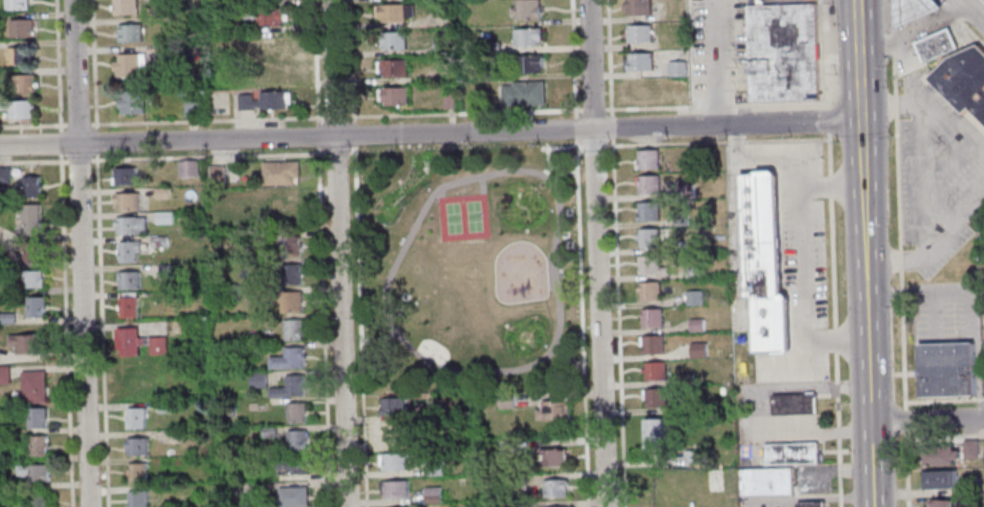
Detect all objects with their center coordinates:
building: (235, 2)
building: (16, 4)
road: (977, 5)
building: (125, 7)
building: (639, 7)
building: (526, 9)
building: (913, 9)
road: (974, 9)
building: (394, 12)
road: (950, 12)
building: (443, 16)
building: (270, 18)
building: (236, 27)
building: (21, 28)
road: (918, 29)
building: (129, 33)
building: (640, 33)
road: (974, 36)
building: (528, 37)
building: (393, 40)
building: (270, 44)
building: (935, 45)
building: (490, 47)
parking lot: (718, 48)
building: (440, 49)
building: (173, 52)
building: (783, 52)
road: (823, 52)
building: (18, 56)
building: (231, 56)
road: (860, 60)
road: (315, 61)
road: (352, 61)
building: (639, 62)
road: (713, 62)
building: (128, 64)
building: (529, 64)
road: (57, 65)
road: (92, 65)
road: (332, 68)
building: (394, 68)
building: (678, 68)
building: (277, 71)
building: (491, 75)
building: (22, 83)
building: (965, 84)
building: (642, 89)
building: (524, 93)
building: (395, 96)
building: (682, 97)
building: (264, 100)
building: (449, 101)
building: (132, 102)
road: (827, 106)
building: (17, 108)
building: (191, 108)
road: (587, 110)
road: (336, 116)
road: (206, 120)
road: (827, 120)
road: (32, 125)
road: (76, 125)
road: (354, 134)
road: (431, 134)
road: (863, 134)
road: (317, 135)
road: (95, 140)
road: (59, 143)
road: (715, 143)
road: (559, 146)
road: (581, 146)
road: (593, 146)
road: (336, 154)
road: (350, 154)
road: (827, 154)
road: (207, 156)
building: (648, 159)
road: (78, 160)
road: (33, 161)
road: (864, 167)
road: (554, 168)
building: (188, 169)
road: (546, 169)
building: (280, 172)
building: (4, 174)
building: (217, 174)
building: (126, 176)
parking lot: (938, 178)
road: (482, 184)
building: (649, 184)
building: (30, 186)
road: (829, 187)
road: (833, 187)
building: (686, 191)
building: (162, 193)
road: (439, 193)
building: (127, 201)
building: (649, 210)
building: (286, 212)
park: (463, 216)
building: (164, 217)
building: (30, 219)
building: (680, 220)
road: (415, 223)
building: (131, 225)
road: (803, 232)
building: (258, 237)
building: (649, 239)
building: (158, 241)
building: (290, 246)
building: (677, 246)
building: (129, 251)
building: (32, 252)
road: (79, 253)
road: (596, 253)
road: (615, 253)
road: (899, 253)
building: (764, 262)
road: (550, 265)
building: (651, 265)
park: (468, 268)
road: (357, 270)
building: (167, 271)
building: (693, 272)
building: (291, 274)
building: (32, 279)
building: (129, 280)
building: (651, 291)
building: (263, 293)
building: (694, 297)
building: (292, 302)
road: (972, 303)
road: (867, 305)
building: (128, 306)
building: (35, 307)
parking lot: (946, 312)
building: (653, 317)
building: (7, 318)
road: (340, 322)
road: (581, 322)
building: (697, 325)
road: (323, 327)
road: (101, 329)
road: (65, 330)
building: (293, 330)
road: (376, 338)
building: (128, 340)
building: (28, 343)
building: (653, 344)
building: (158, 345)
building: (254, 349)
building: (698, 350)
road: (836, 352)
building: (288, 359)
road: (792, 361)
building: (947, 369)
building: (655, 371)
building: (4, 374)
building: (686, 379)
building: (257, 380)
building: (33, 387)
building: (289, 387)
building: (656, 398)
road: (944, 400)
building: (506, 401)
building: (793, 404)
building: (393, 406)
building: (164, 408)
building: (553, 410)
building: (296, 412)
building: (429, 413)
road: (753, 413)
building: (36, 418)
building: (135, 418)
road: (927, 421)
building: (268, 432)
building: (654, 432)
building: (393, 434)
building: (174, 436)
road: (944, 436)
building: (296, 440)
building: (428, 441)
building: (38, 446)
building: (136, 446)
building: (509, 447)
building: (971, 449)
road: (362, 452)
building: (791, 453)
building: (942, 456)
building: (555, 457)
building: (692, 458)
building: (394, 462)
road: (871, 464)
building: (292, 465)
building: (434, 467)
building: (468, 468)
building: (33, 472)
building: (137, 473)
building: (941, 481)
building: (767, 482)
building: (519, 483)
building: (5, 484)
building: (395, 489)
building: (555, 489)
building: (236, 491)
building: (432, 495)
building: (293, 496)
building: (39, 498)
building: (137, 499)
road: (819, 499)
parking lot: (767, 502)
building: (811, 504)
building: (942, 504)
building: (511, 505)

